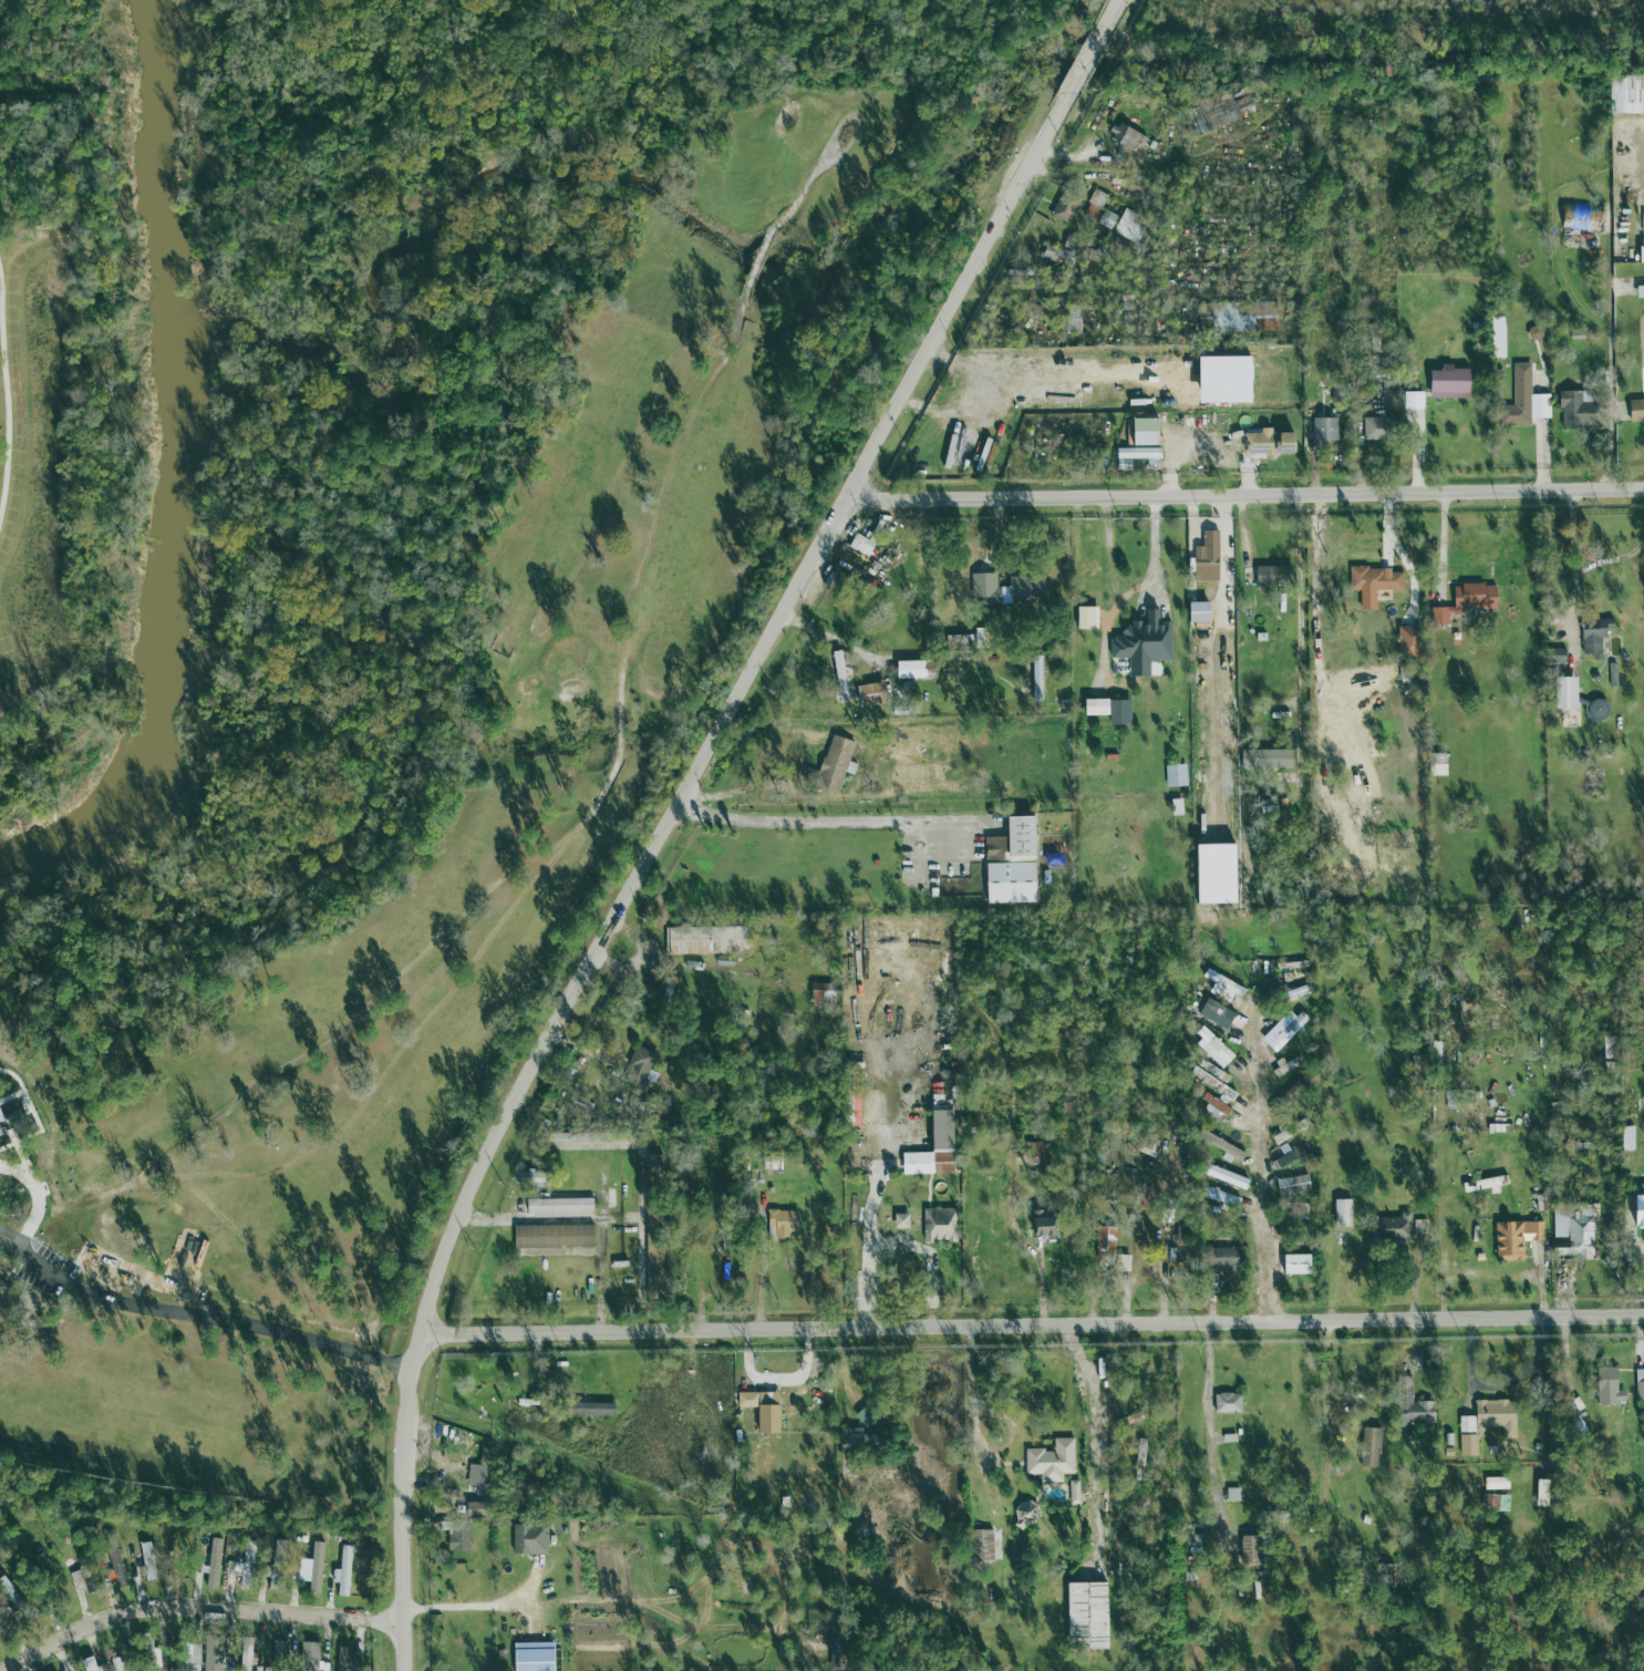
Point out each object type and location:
road: (1108, 17)
road: (1083, 68)
building: (1625, 93)
building: (1214, 112)
building: (1125, 136)
building: (1094, 205)
building: (1062, 208)
building: (1578, 217)
building: (1106, 220)
building: (1127, 225)
building: (1058, 251)
building: (1640, 254)
building: (1638, 291)
building: (1243, 317)
building: (1496, 337)
road: (1620, 357)
building: (1446, 382)
building: (1412, 400)
building: (1522, 401)
building: (1572, 411)
building: (1635, 411)
road: (2, 412)
building: (1373, 429)
building: (1323, 430)
building: (1139, 431)
building: (1266, 443)
building: (1135, 455)
river: (177, 476)
road: (1245, 494)
road: (1154, 546)
road: (1441, 546)
building: (859, 547)
road: (1583, 554)
building: (1203, 558)
building: (1270, 575)
building: (1373, 579)
building: (1002, 588)
building: (1464, 601)
building: (1195, 612)
building: (1085, 618)
road: (1302, 627)
building: (1592, 635)
road: (829, 640)
building: (1404, 641)
building: (1140, 643)
building: (1553, 656)
building: (836, 667)
building: (910, 669)
park: (364, 674)
building: (1035, 678)
building: (1563, 693)
building: (1107, 710)
building: (1594, 711)
building: (1263, 759)
building: (829, 769)
building: (1175, 775)
building: (1175, 807)
road: (825, 819)
road: (648, 860)
building: (1007, 864)
road: (554, 904)
building: (700, 940)
building: (1221, 987)
building: (819, 993)
building: (1281, 1034)
building: (1212, 1048)
building: (1606, 1049)
building: (639, 1069)
building: (1211, 1079)
building: (1211, 1104)
road: (34, 1116)
building: (0, 1120)
building: (1626, 1138)
building: (1219, 1145)
building: (931, 1148)
building: (1031, 1152)
building: (1221, 1175)
building: (533, 1177)
building: (1291, 1185)
road: (1270, 1189)
road: (39, 1196)
building: (1220, 1197)
building: (557, 1205)
building: (1341, 1206)
building: (1637, 1209)
road: (583, 1218)
building: (782, 1223)
building: (1038, 1224)
building: (938, 1225)
road: (866, 1227)
building: (1390, 1227)
building: (1419, 1229)
building: (1571, 1234)
building: (550, 1236)
building: (1104, 1237)
building: (1513, 1238)
building: (1220, 1260)
building: (652, 1261)
road: (922, 1261)
building: (1121, 1262)
building: (1293, 1265)
road: (203, 1317)
road: (1033, 1324)
road: (1326, 1384)
building: (1638, 1384)
road: (1498, 1388)
building: (1605, 1388)
building: (1224, 1403)
building: (766, 1406)
building: (586, 1409)
building: (1412, 1409)
building: (1573, 1415)
building: (1489, 1417)
road: (972, 1424)
building: (851, 1441)
road: (1090, 1441)
road: (1210, 1441)
building: (1466, 1445)
building: (1368, 1447)
building: (1138, 1455)
building: (1050, 1462)
building: (476, 1478)
building: (1495, 1483)
building: (1073, 1492)
building: (1539, 1493)
building: (1231, 1495)
building: (1493, 1503)
building: (471, 1508)
building: (455, 1535)
building: (527, 1538)
building: (1247, 1550)
building: (978, 1553)
building: (112, 1558)
building: (244, 1559)
building: (210, 1562)
building: (313, 1567)
building: (143, 1569)
building: (341, 1571)
building: (177, 1572)
building: (76, 1579)
building: (7, 1592)
road: (476, 1602)
road: (195, 1607)
building: (1085, 1613)
building: (277, 1648)
building: (214, 1653)
building: (244, 1653)
building: (306, 1655)
building: (530, 1657)
building: (345, 1659)
building: (170, 1660)
building: (87, 1663)
building: (113, 1663)

